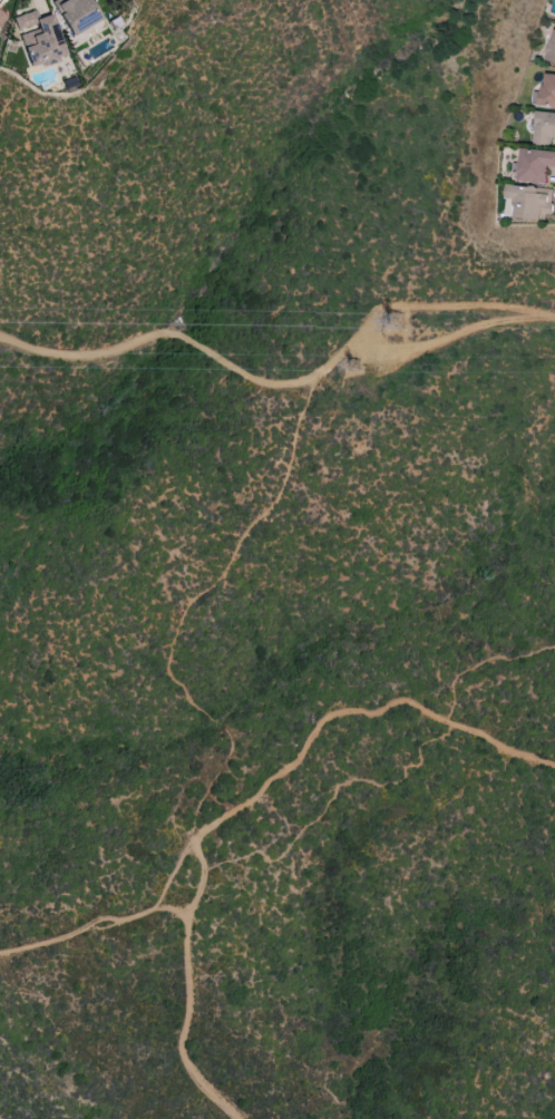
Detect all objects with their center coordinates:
building: (76, 13)
building: (1, 17)
building: (39, 39)
building: (551, 47)
building: (547, 89)
building: (544, 127)
building: (534, 164)
building: (528, 201)
power tower: (397, 324)
power tower: (354, 367)
road: (275, 383)
road: (189, 602)
road: (247, 804)
road: (172, 911)
road: (117, 918)

